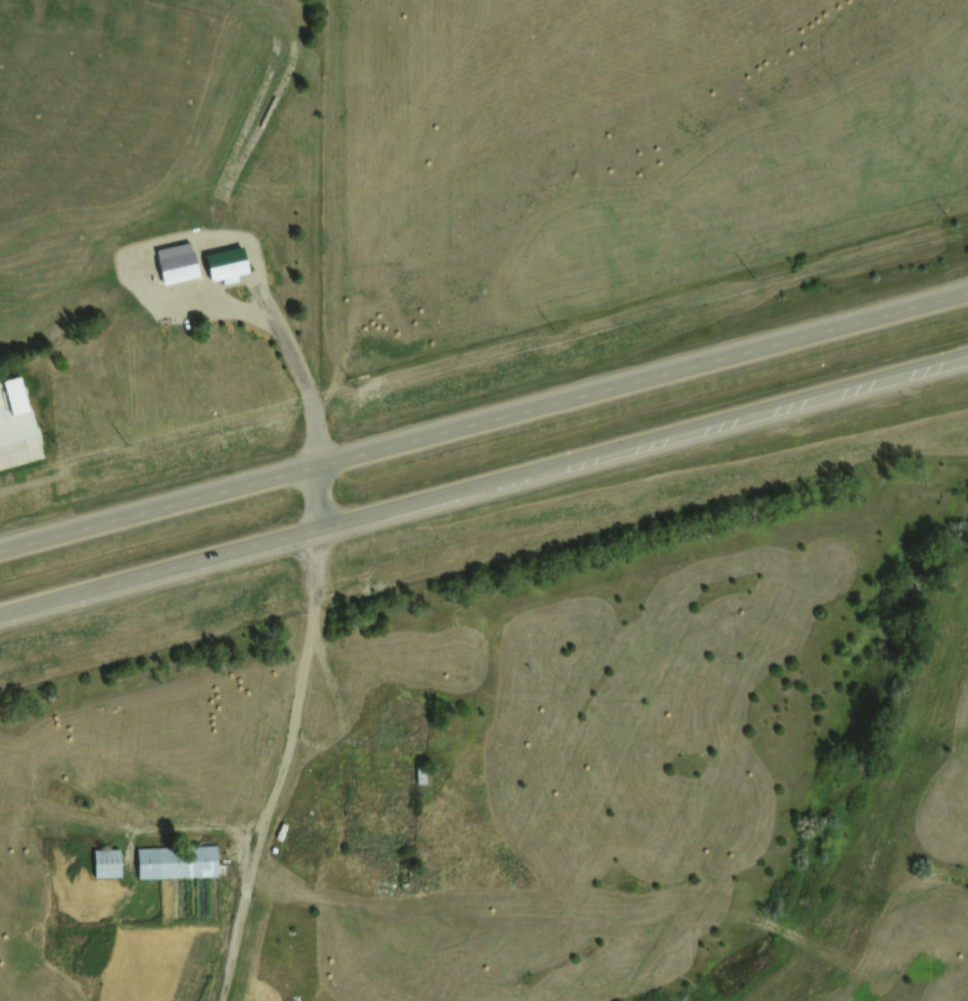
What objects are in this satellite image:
building: (173, 260)
building: (224, 262)
road: (240, 315)
road: (644, 378)
road: (485, 489)
road: (159, 509)
building: (395, 723)
road: (277, 768)
building: (174, 861)
building: (104, 862)

